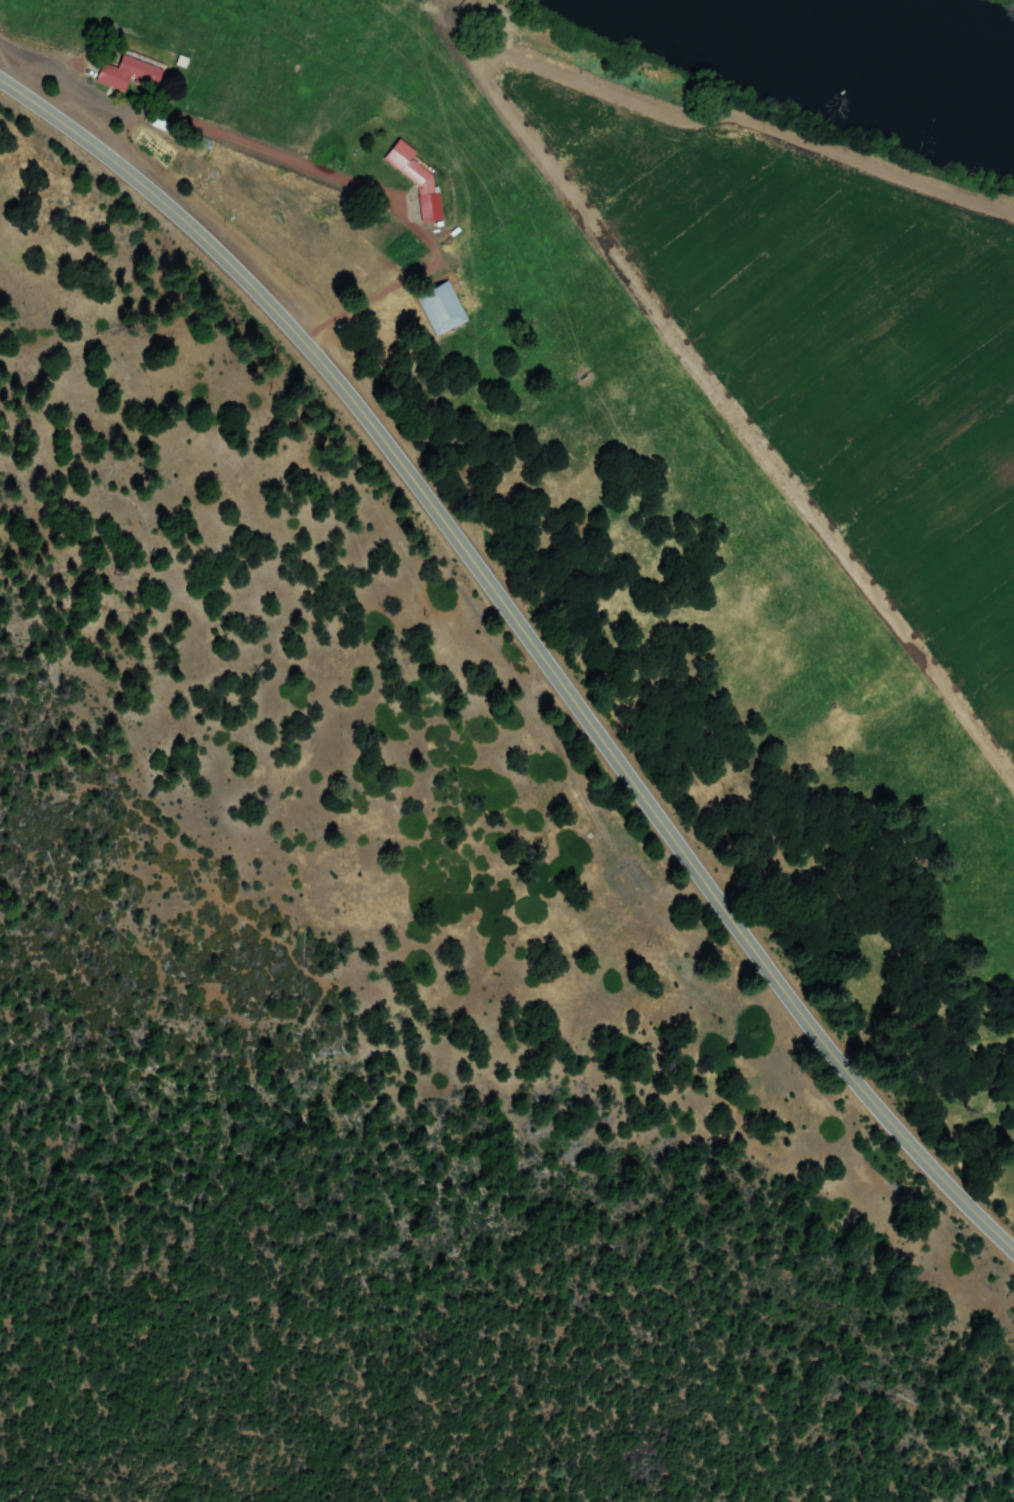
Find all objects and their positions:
river: (882, 52)
building: (127, 72)
building: (417, 178)
building: (444, 308)
road: (530, 650)

